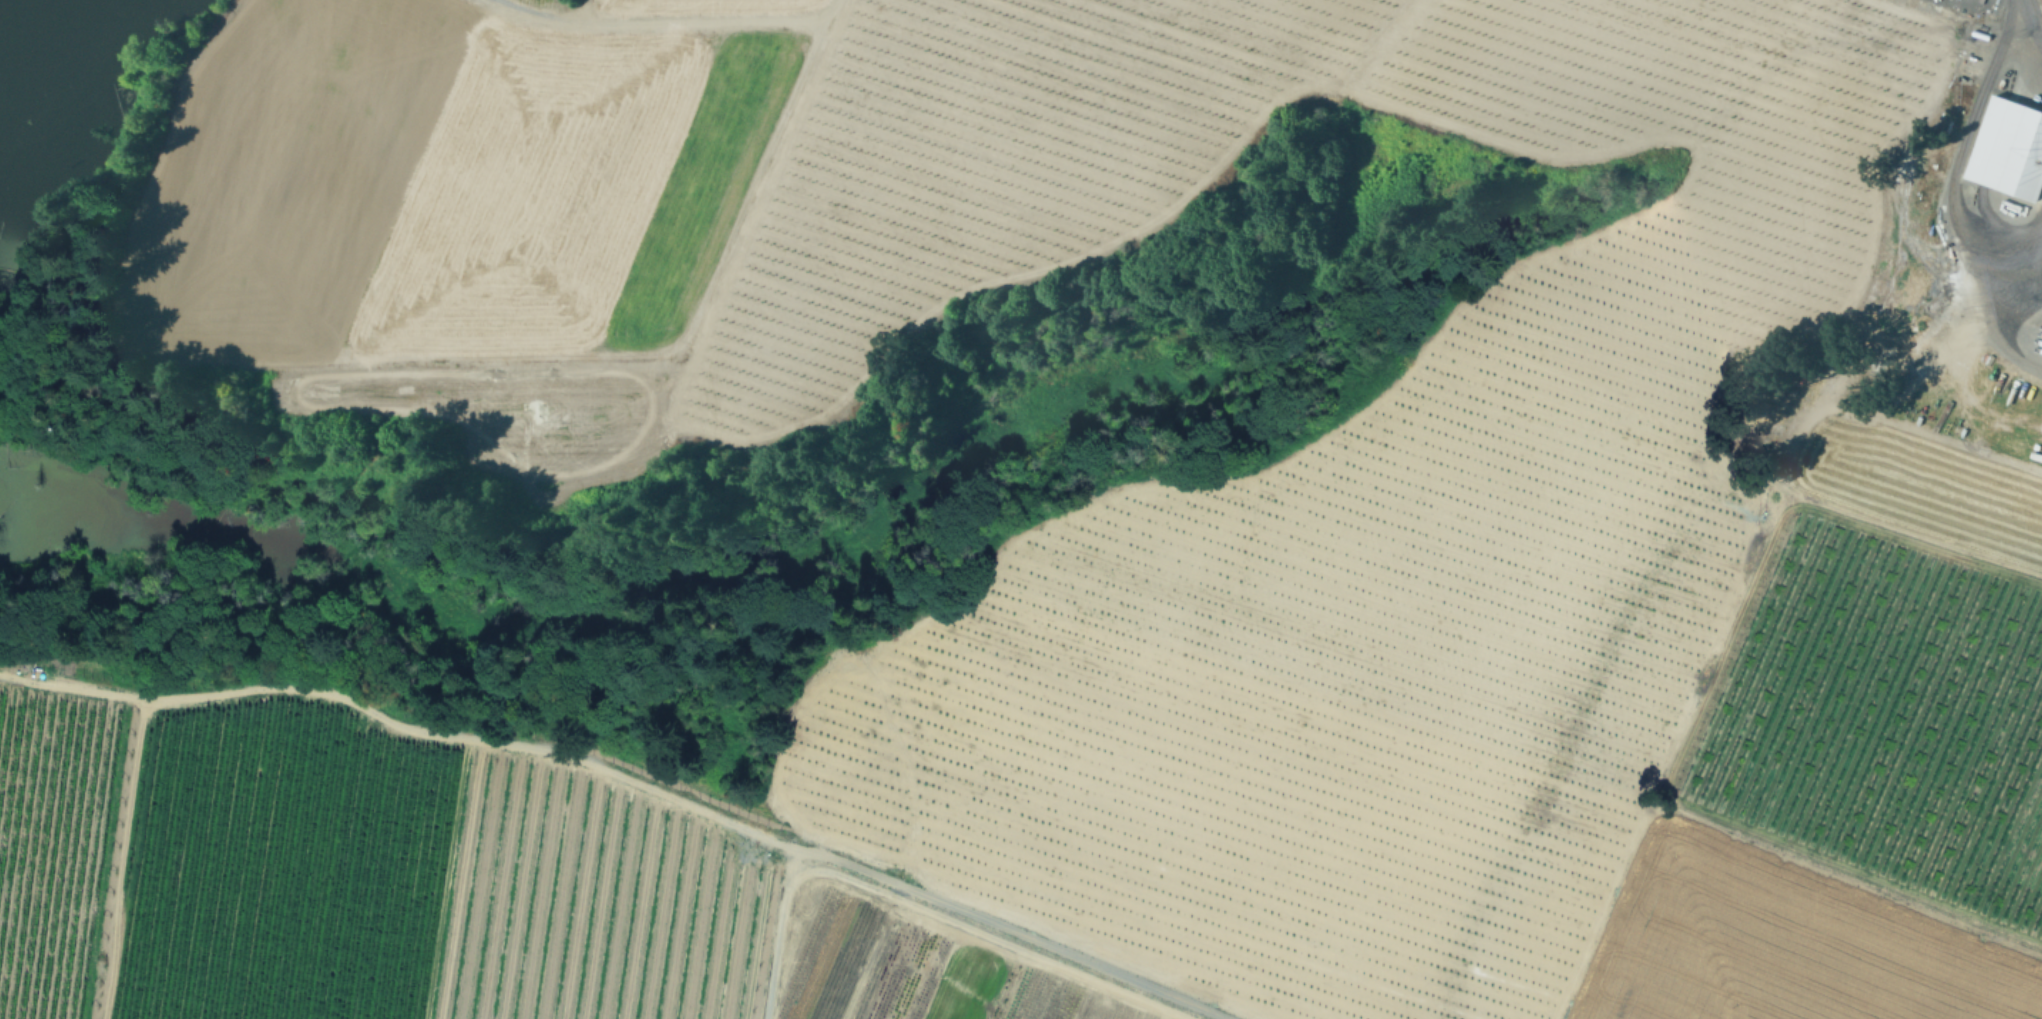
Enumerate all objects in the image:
road: (2033, 22)
crop: (1291, 476)
crop: (54, 848)
road: (1869, 880)
crop: (414, 885)
road: (929, 897)
building: (380, 929)

